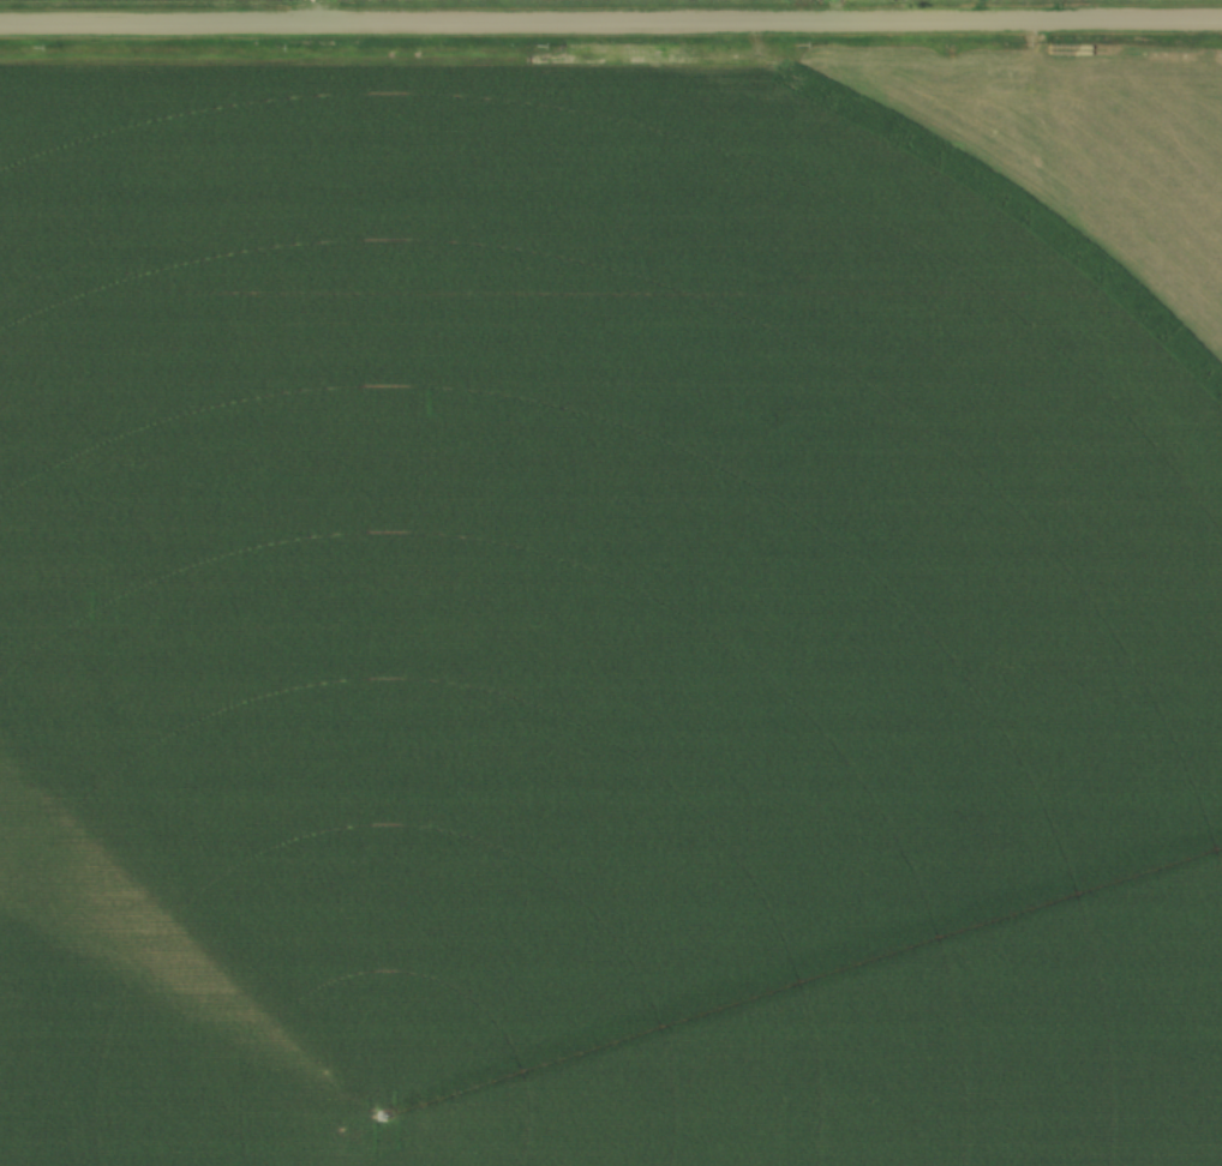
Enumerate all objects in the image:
road: (981, 10)
road: (1060, 10)
road: (611, 23)
crop: (611, 612)

